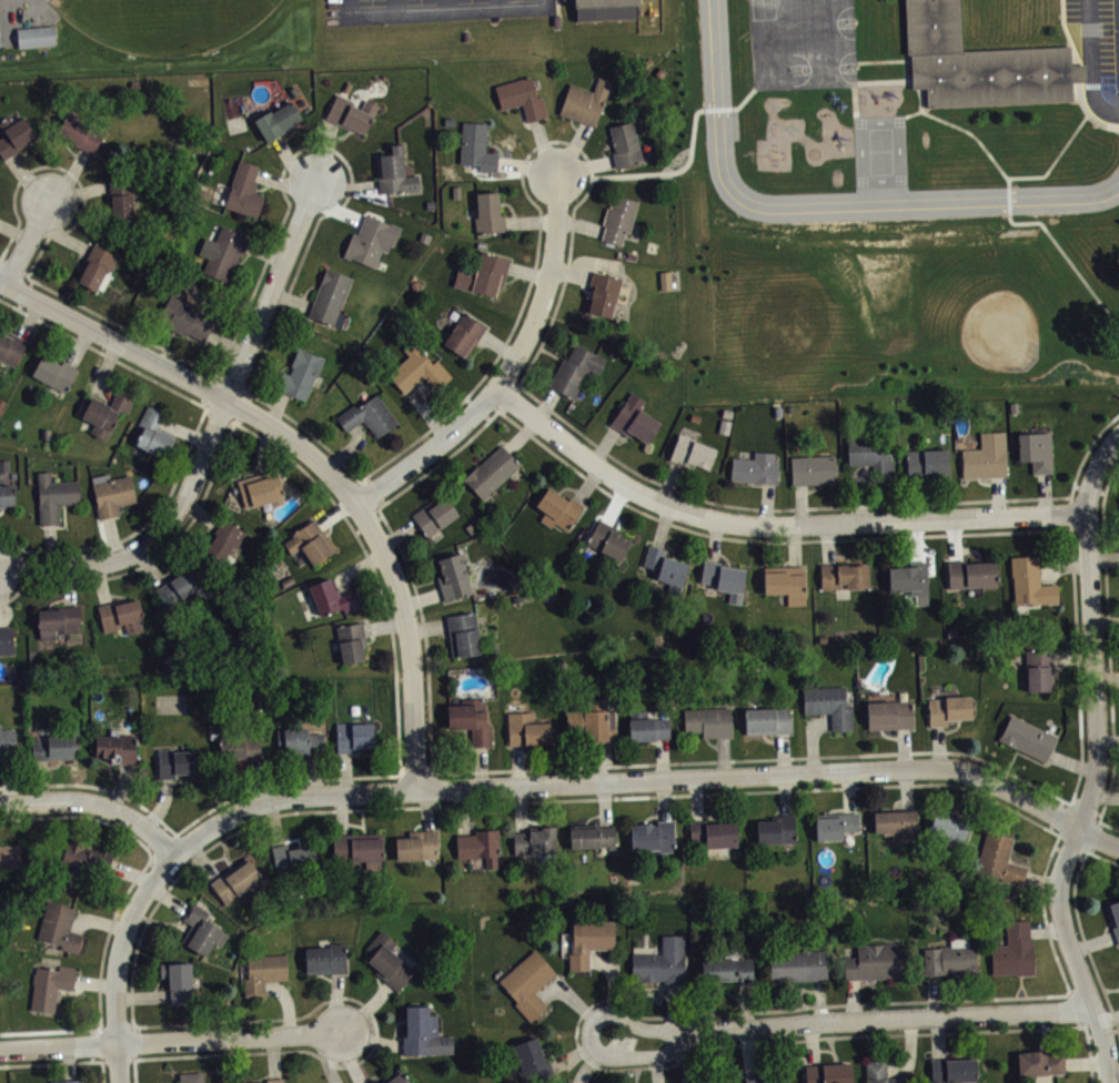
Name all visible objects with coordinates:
road: (445, 4)
road: (494, 4)
road: (394, 6)
building: (606, 8)
parking lot: (423, 10)
road: (444, 10)
park: (163, 22)
building: (1, 41)
building: (39, 43)
parking lot: (1097, 51)
road: (1077, 55)
road: (883, 60)
building: (978, 62)
road: (1092, 62)
road: (909, 67)
building: (521, 98)
building: (585, 102)
road: (856, 107)
building: (351, 113)
building: (278, 121)
road: (1102, 122)
road: (972, 132)
building: (81, 133)
building: (13, 134)
building: (624, 144)
building: (476, 146)
road: (681, 170)
building: (393, 172)
building: (243, 190)
building: (120, 199)
road: (827, 206)
building: (0, 208)
building: (487, 214)
building: (617, 219)
road: (1014, 221)
building: (369, 241)
road: (31, 246)
building: (225, 254)
building: (95, 266)
building: (483, 274)
building: (602, 293)
building: (330, 297)
building: (185, 317)
building: (463, 334)
road: (114, 342)
building: (10, 347)
building: (416, 370)
building: (574, 370)
building: (53, 373)
road: (510, 373)
building: (300, 374)
building: (103, 412)
building: (367, 416)
road: (442, 418)
building: (634, 419)
building: (153, 433)
road: (194, 434)
road: (213, 443)
road: (1116, 447)
building: (1035, 451)
building: (690, 452)
building: (870, 454)
building: (985, 456)
building: (927, 464)
building: (755, 468)
building: (811, 469)
building: (491, 472)
building: (261, 488)
building: (6, 495)
building: (112, 495)
building: (53, 496)
building: (557, 509)
building: (434, 515)
road: (773, 530)
building: (224, 538)
building: (607, 539)
building: (310, 541)
road: (392, 564)
road: (1073, 565)
building: (665, 568)
building: (970, 574)
building: (843, 576)
building: (452, 577)
building: (723, 578)
building: (911, 580)
building: (1029, 581)
building: (785, 583)
building: (183, 586)
building: (332, 597)
building: (121, 616)
road: (387, 617)
building: (58, 620)
building: (463, 634)
building: (6, 640)
building: (351, 641)
road: (1109, 651)
building: (1038, 668)
road: (427, 677)
building: (828, 705)
building: (948, 709)
building: (888, 712)
building: (471, 719)
building: (766, 720)
building: (592, 721)
building: (707, 721)
building: (647, 727)
building: (526, 729)
building: (354, 736)
building: (1027, 737)
building: (7, 740)
building: (299, 741)
building: (57, 746)
building: (115, 747)
building: (240, 748)
building: (175, 762)
road: (1097, 770)
road: (647, 785)
road: (894, 786)
road: (93, 807)
building: (895, 822)
building: (835, 824)
building: (776, 829)
building: (948, 829)
building: (712, 832)
building: (592, 836)
building: (652, 836)
building: (535, 840)
building: (416, 844)
building: (478, 846)
building: (357, 849)
building: (10, 857)
building: (292, 857)
building: (85, 859)
building: (998, 860)
building: (234, 880)
road: (119, 905)
building: (1113, 917)
road: (1080, 925)
building: (59, 927)
building: (201, 930)
building: (588, 941)
building: (1012, 949)
building: (949, 957)
building: (324, 959)
building: (386, 960)
building: (874, 961)
building: (662, 962)
road: (123, 963)
building: (797, 964)
building: (727, 970)
building: (263, 972)
building: (178, 981)
building: (527, 982)
building: (50, 985)
road: (850, 1023)
building: (423, 1033)
road: (170, 1044)
building: (528, 1062)
building: (1039, 1063)
road: (50, 1064)
building: (951, 1069)
road: (102, 1073)
building: (828, 1073)
building: (880, 1073)
building: (765, 1076)
building: (191, 1077)
building: (395, 1077)
building: (273, 1080)
building: (65, 1081)

